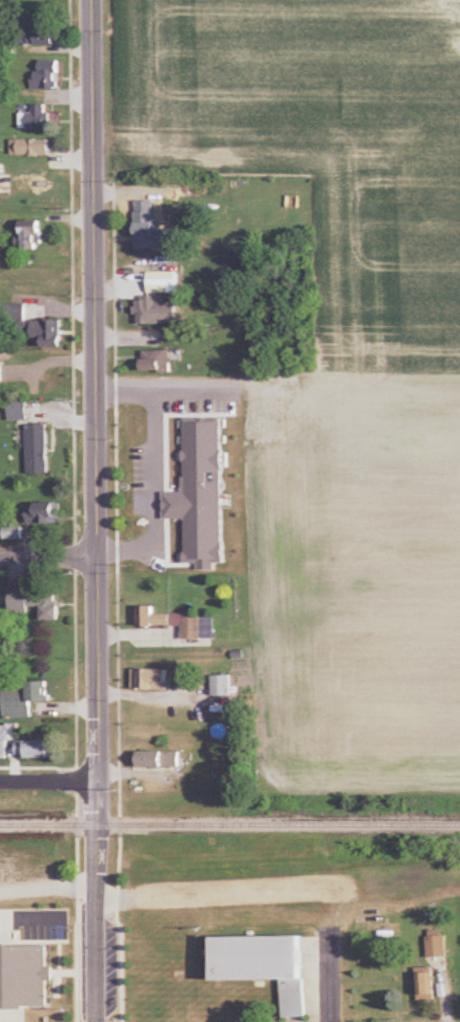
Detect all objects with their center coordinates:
building: (42, 39)
building: (46, 77)
building: (34, 119)
building: (31, 148)
building: (29, 236)
building: (153, 236)
building: (156, 312)
building: (49, 334)
building: (155, 362)
building: (0, 373)
building: (50, 377)
building: (18, 411)
building: (37, 450)
road: (96, 511)
building: (45, 515)
building: (13, 534)
road: (48, 555)
building: (36, 603)
building: (152, 618)
building: (198, 628)
building: (153, 680)
building: (221, 685)
building: (23, 700)
building: (24, 745)
building: (159, 760)
road: (49, 781)
railway: (229, 825)
building: (437, 944)
building: (171, 961)
building: (265, 967)
road: (332, 973)
building: (426, 985)

